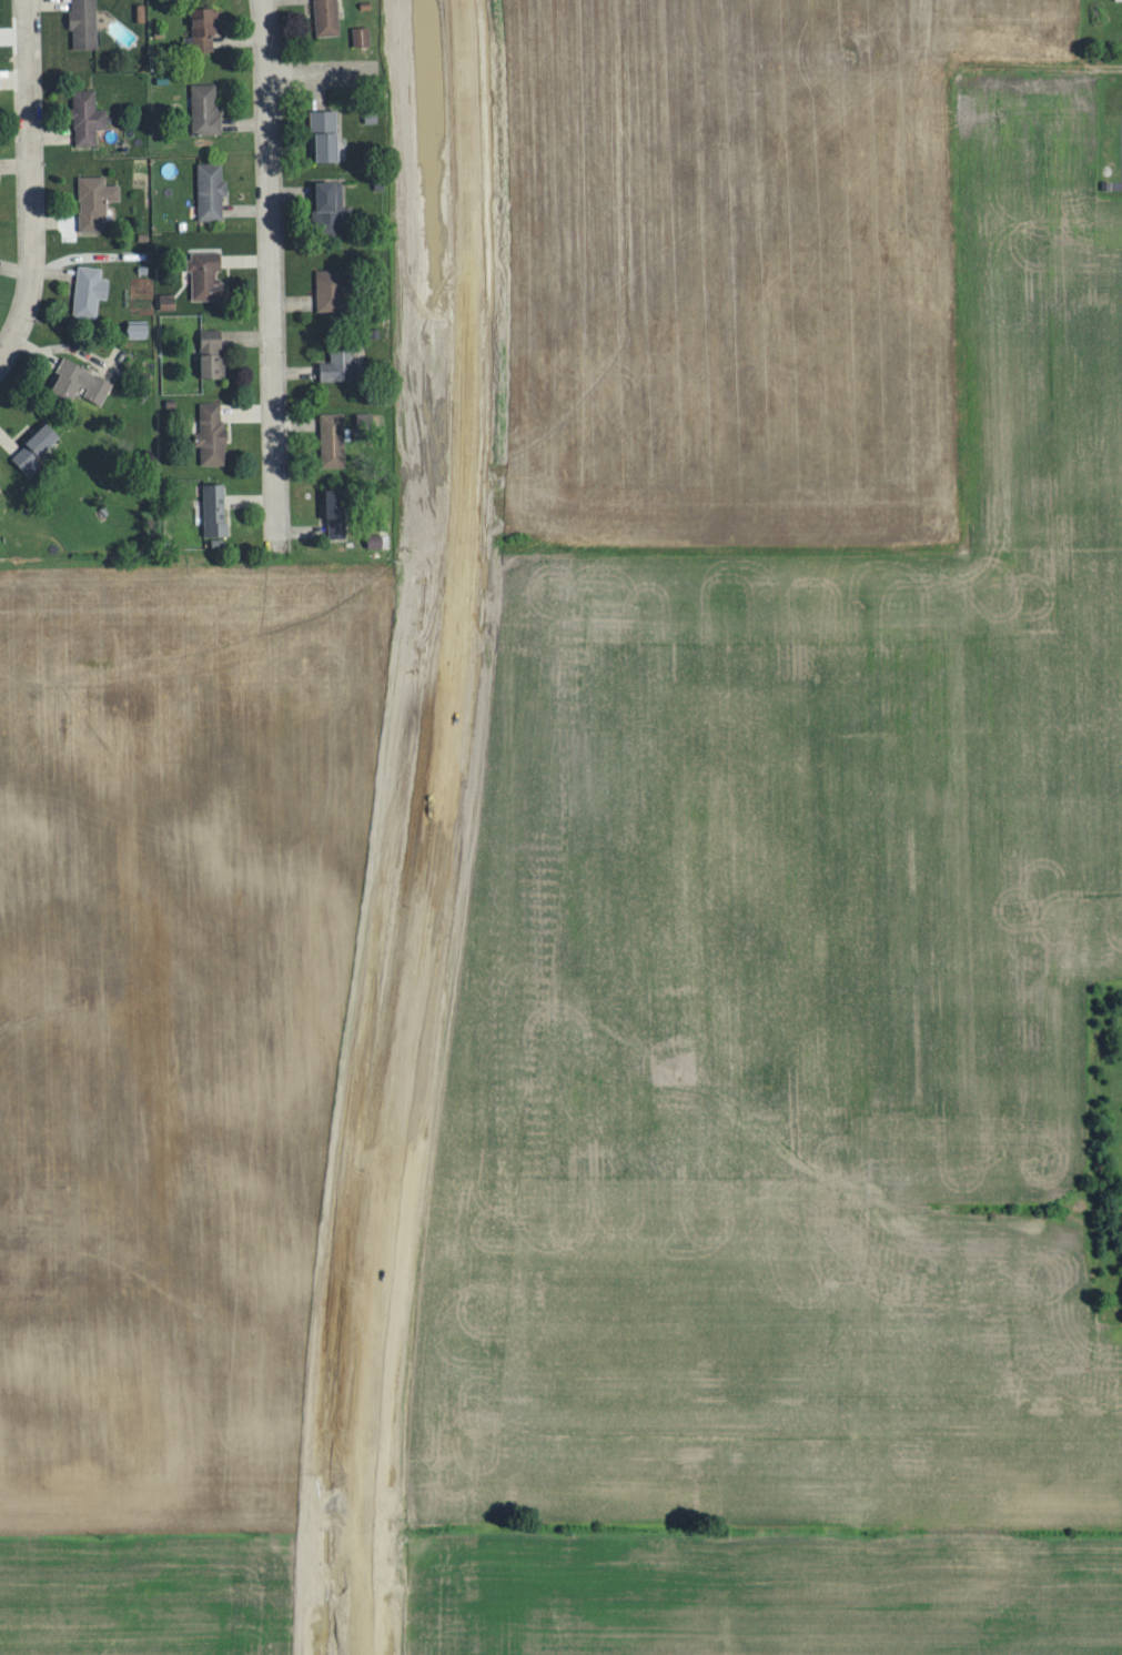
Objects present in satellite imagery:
building: (327, 17)
building: (84, 23)
building: (205, 26)
building: (363, 34)
road: (321, 71)
building: (206, 107)
building: (88, 115)
building: (325, 133)
road: (29, 181)
building: (212, 189)
building: (95, 200)
building: (330, 206)
building: (208, 274)
road: (271, 274)
building: (331, 289)
building: (90, 290)
building: (169, 300)
building: (138, 327)
building: (212, 352)
building: (340, 364)
building: (79, 382)
building: (212, 432)
building: (334, 438)
building: (37, 446)
building: (1, 486)
building: (215, 507)
building: (336, 512)
building: (375, 541)
road: (427, 829)

